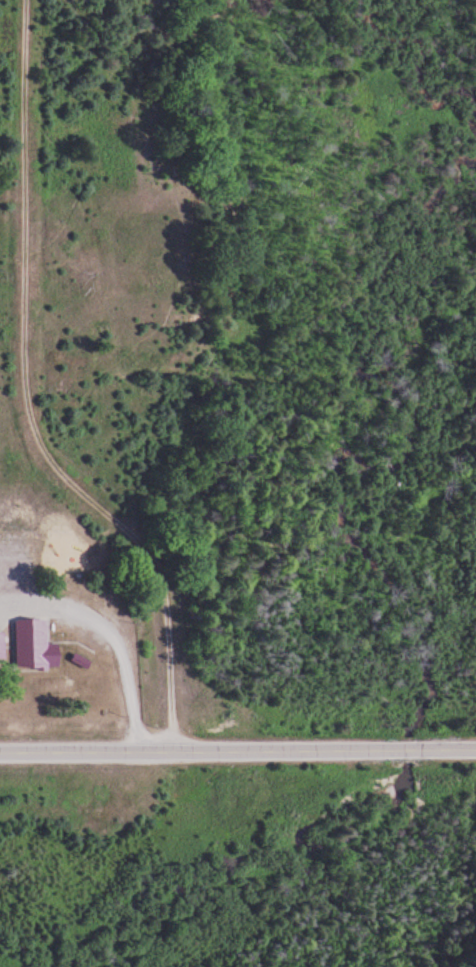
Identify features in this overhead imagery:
road: (38, 400)
building: (36, 644)
building: (3, 647)
road: (238, 747)

